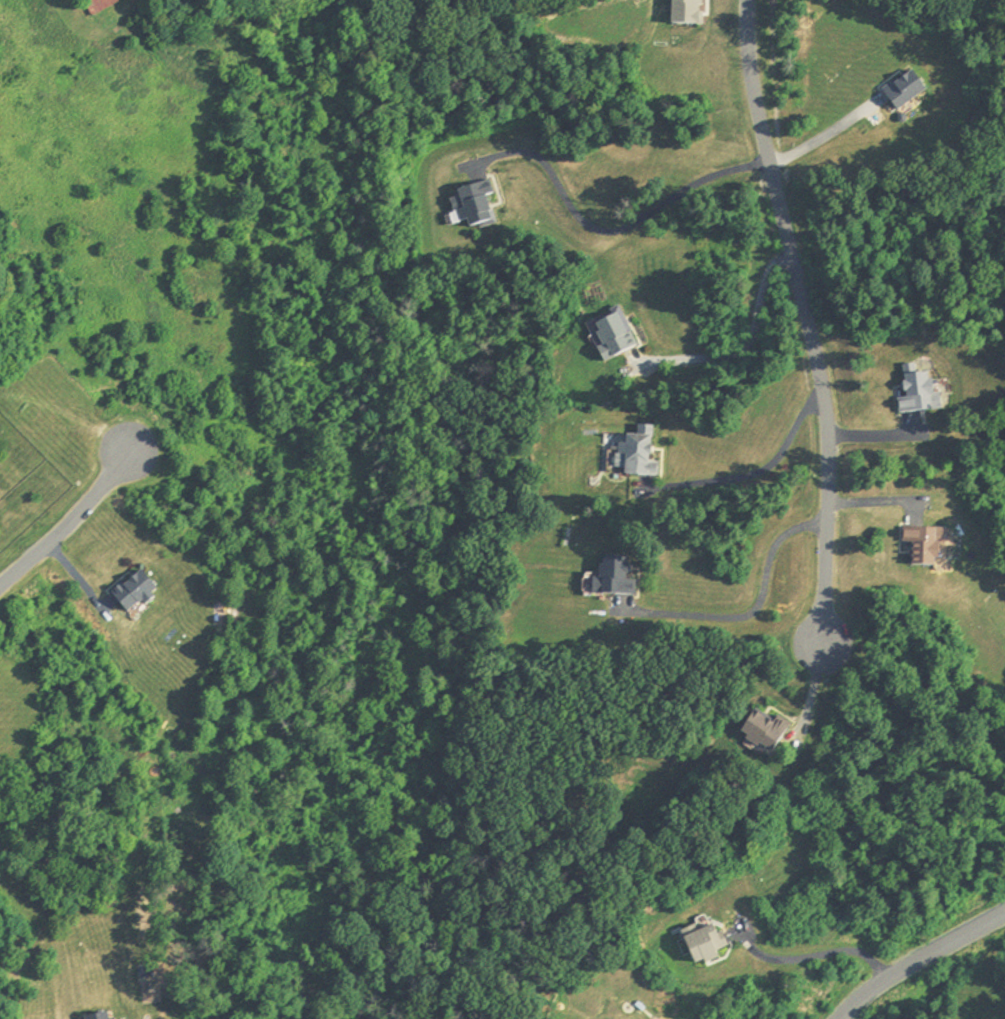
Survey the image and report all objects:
building: (98, 6)
building: (684, 13)
building: (903, 91)
road: (818, 139)
building: (471, 207)
road: (610, 231)
road: (805, 319)
building: (611, 337)
road: (746, 345)
road: (878, 436)
building: (637, 456)
road: (763, 468)
road: (879, 501)
road: (70, 522)
building: (921, 548)
building: (611, 579)
building: (131, 593)
road: (753, 607)
road: (812, 694)
building: (762, 733)
building: (703, 944)
road: (820, 954)
road: (918, 960)
building: (101, 1017)

